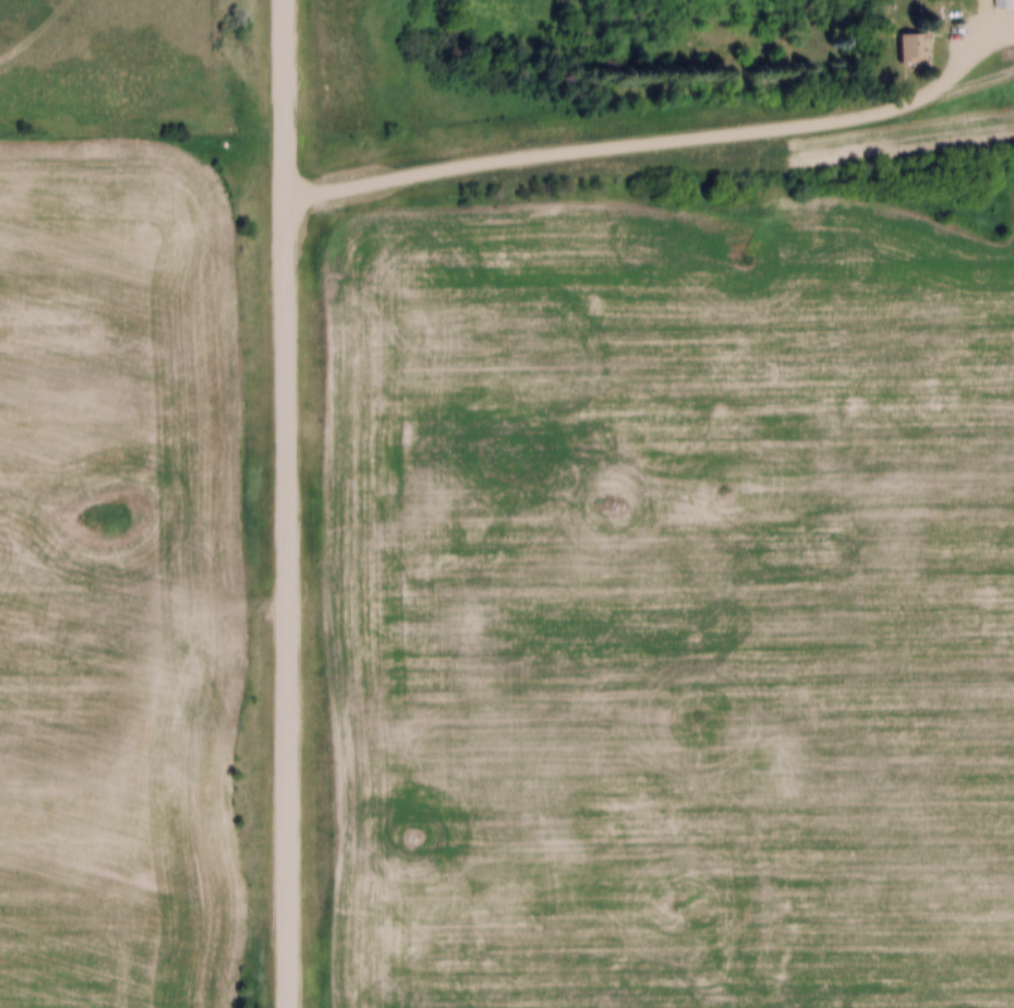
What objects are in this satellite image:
building: (1004, 4)
road: (32, 31)
building: (905, 40)
road: (660, 138)
road: (287, 503)

